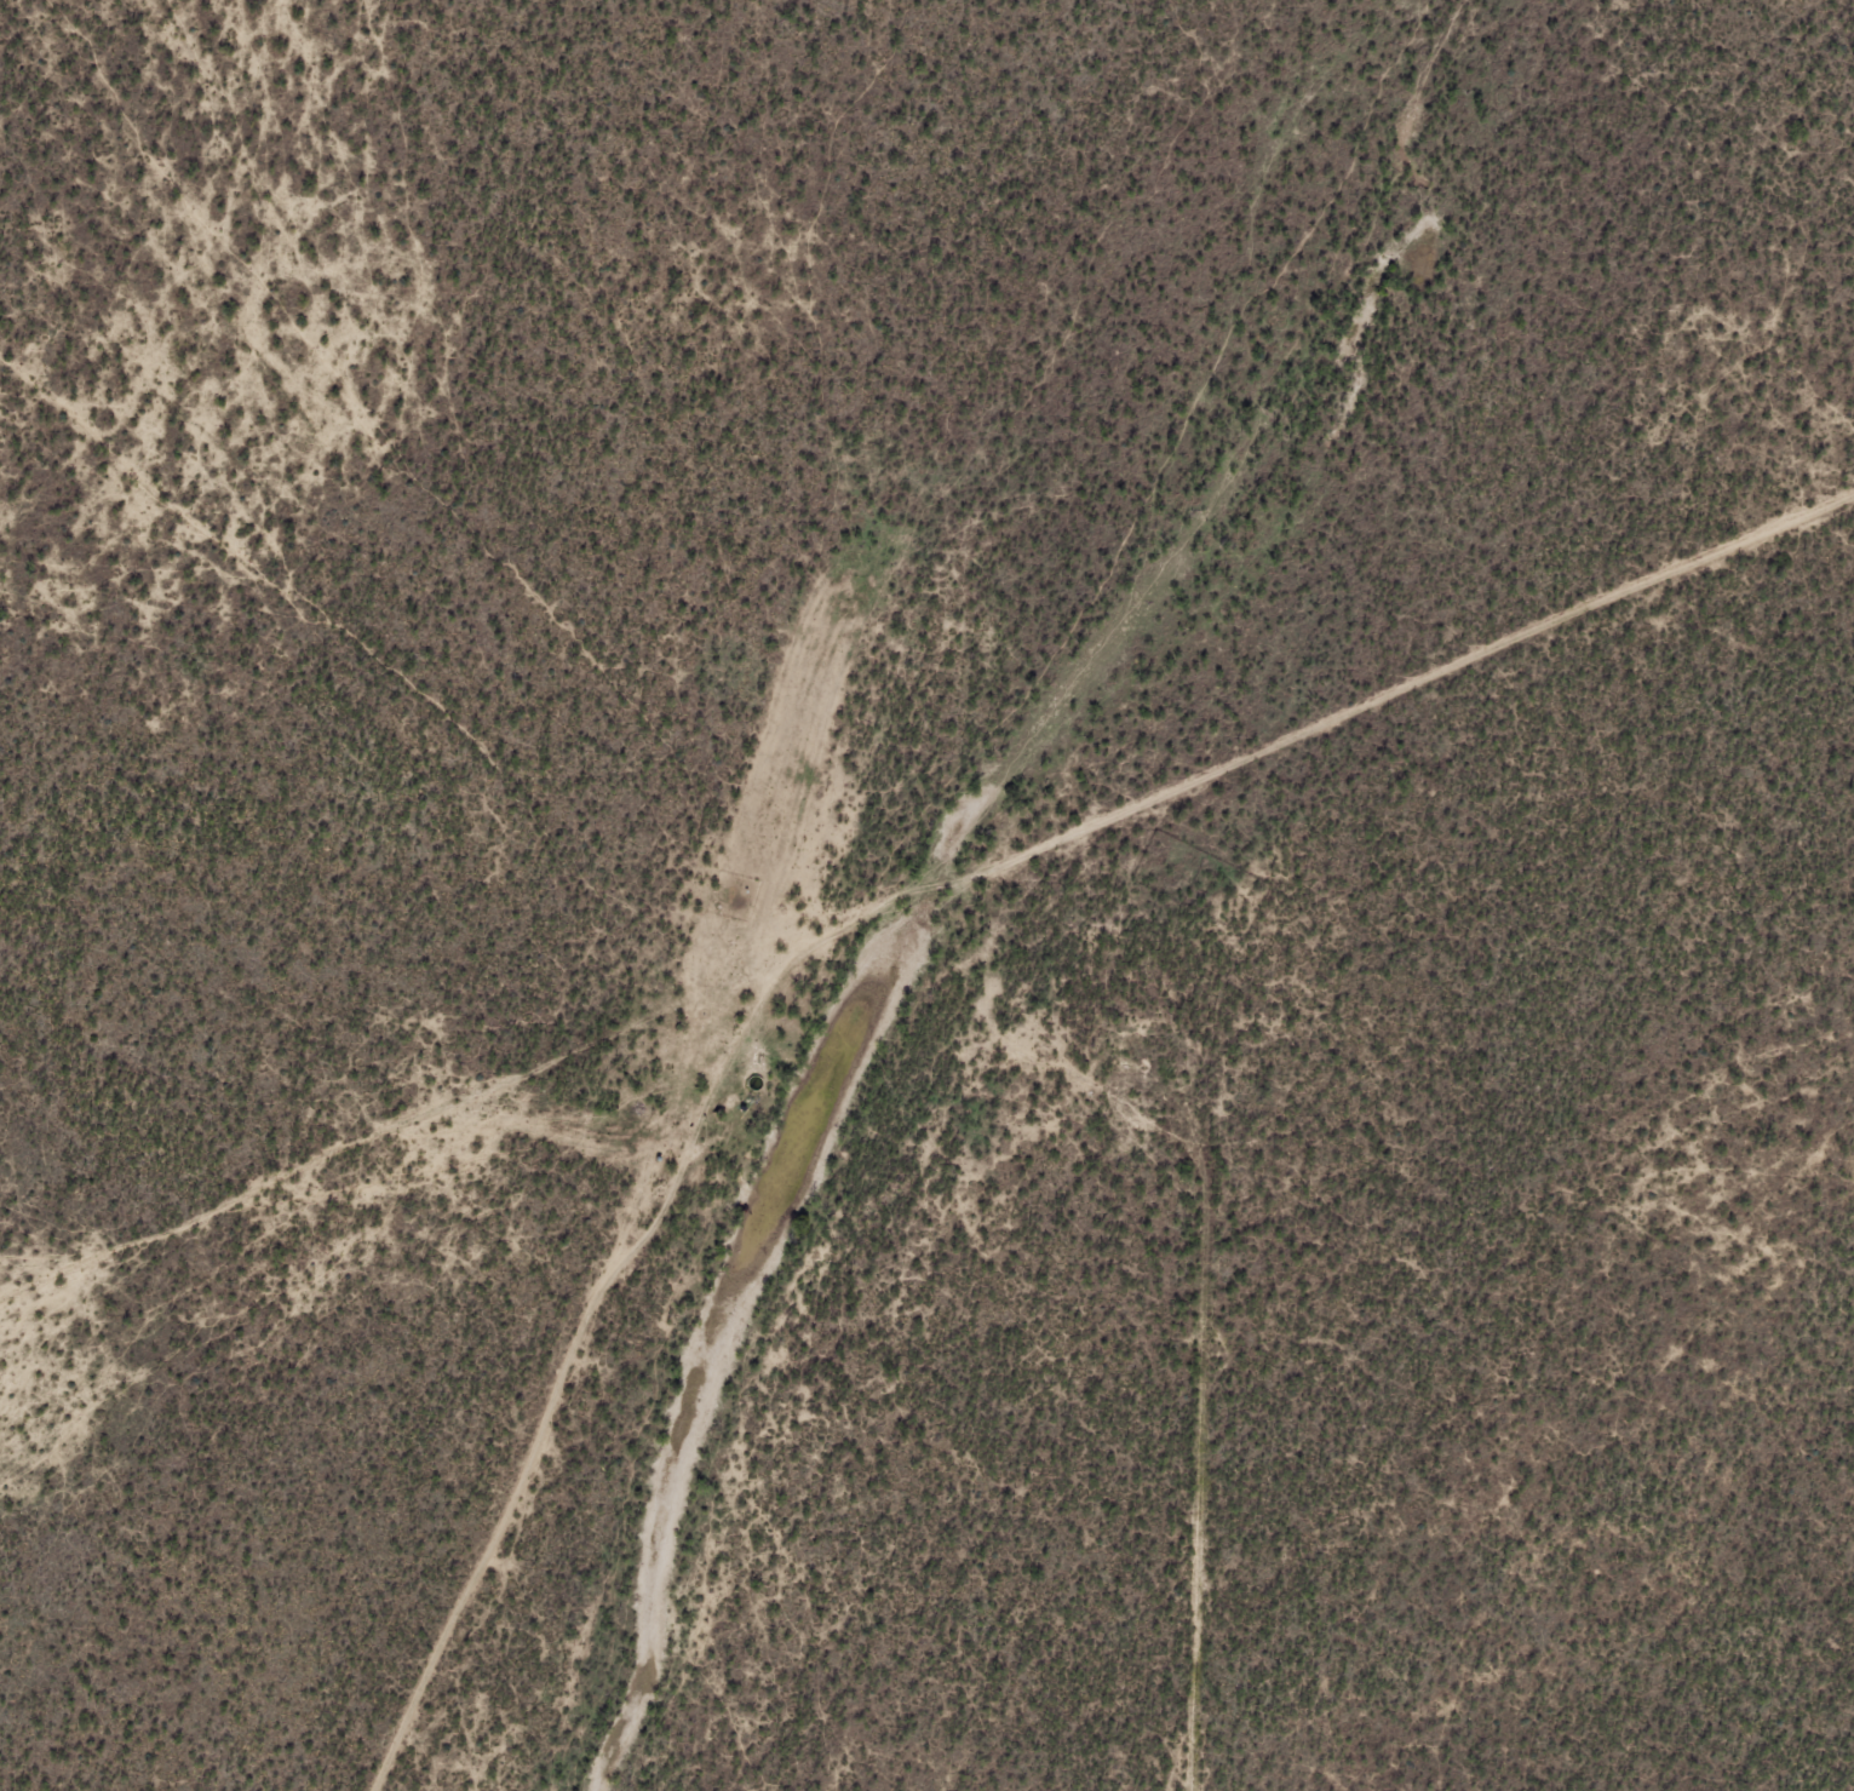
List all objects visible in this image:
road: (895, 917)
road: (358, 1143)
road: (1181, 1474)

